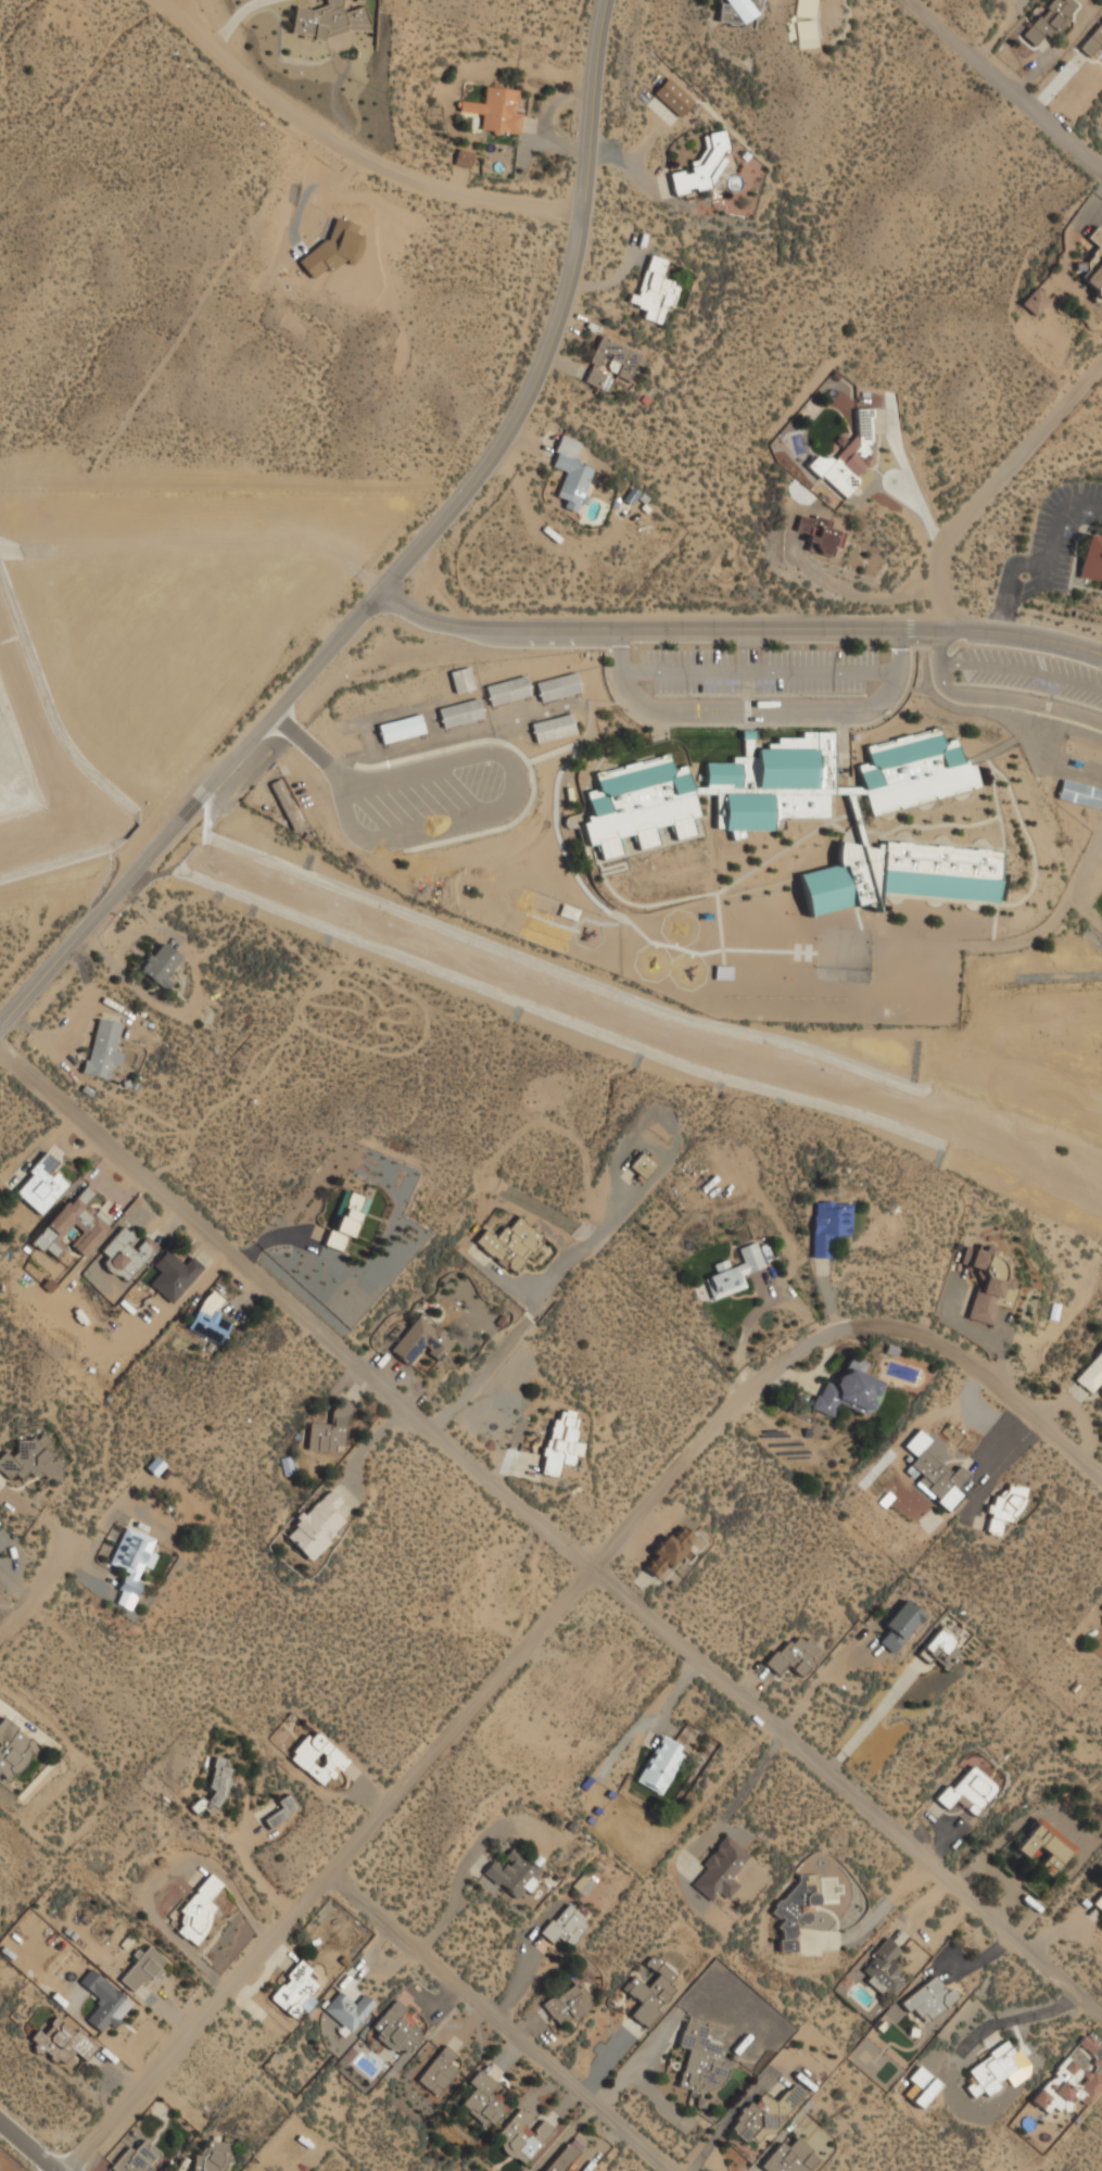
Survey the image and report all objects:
road: (175, 7)
road: (186, 7)
building: (739, 10)
building: (328, 20)
building: (1051, 20)
building: (806, 23)
building: (1093, 40)
road: (1010, 77)
building: (674, 96)
building: (496, 110)
road: (366, 150)
building: (464, 157)
building: (701, 165)
building: (1093, 262)
building: (656, 289)
building: (1033, 302)
building: (610, 362)
building: (851, 455)
building: (571, 471)
road: (995, 482)
building: (814, 531)
building: (1092, 557)
road: (403, 561)
road: (733, 631)
road: (941, 645)
road: (746, 652)
road: (898, 653)
road: (1023, 671)
road: (758, 673)
building: (464, 678)
building: (558, 685)
building: (508, 689)
road: (1010, 703)
building: (460, 711)
road: (736, 714)
building: (554, 727)
building: (401, 728)
building: (351, 741)
building: (765, 785)
building: (1079, 793)
building: (288, 803)
building: (900, 873)
building: (161, 963)
building: (723, 972)
building: (103, 1048)
building: (642, 1164)
building: (41, 1184)
building: (346, 1220)
building: (75, 1223)
building: (828, 1225)
building: (510, 1244)
building: (126, 1253)
building: (735, 1272)
building: (174, 1274)
building: (988, 1283)
building: (211, 1316)
building: (425, 1341)
building: (1091, 1374)
road: (1000, 1387)
building: (848, 1390)
building: (330, 1430)
building: (560, 1441)
building: (30, 1460)
building: (935, 1474)
building: (1005, 1507)
building: (317, 1524)
road: (555, 1527)
building: (669, 1551)
road: (73, 1556)
building: (132, 1561)
building: (1101, 1605)
building: (1101, 1610)
building: (899, 1626)
building: (941, 1646)
building: (795, 1655)
road: (458, 1720)
building: (12, 1747)
building: (318, 1757)
building: (662, 1764)
building: (214, 1785)
building: (968, 1790)
building: (281, 1809)
building: (1046, 1847)
road: (244, 1858)
building: (721, 1870)
building: (514, 1875)
building: (1098, 1903)
building: (200, 1908)
building: (801, 1910)
building: (566, 1924)
building: (885, 1968)
building: (143, 1969)
building: (293, 1987)
building: (650, 1991)
building: (929, 1998)
building: (105, 2000)
building: (568, 2004)
building: (349, 2009)
road: (505, 2019)
building: (396, 2028)
building: (62, 2041)
building: (701, 2060)
building: (439, 2070)
building: (991, 2070)
building: (920, 2086)
building: (1067, 2086)
building: (483, 2099)
building: (765, 2115)
building: (523, 2135)
road: (31, 2143)
building: (212, 2157)
building: (790, 2157)
building: (137, 2158)
building: (567, 2160)

